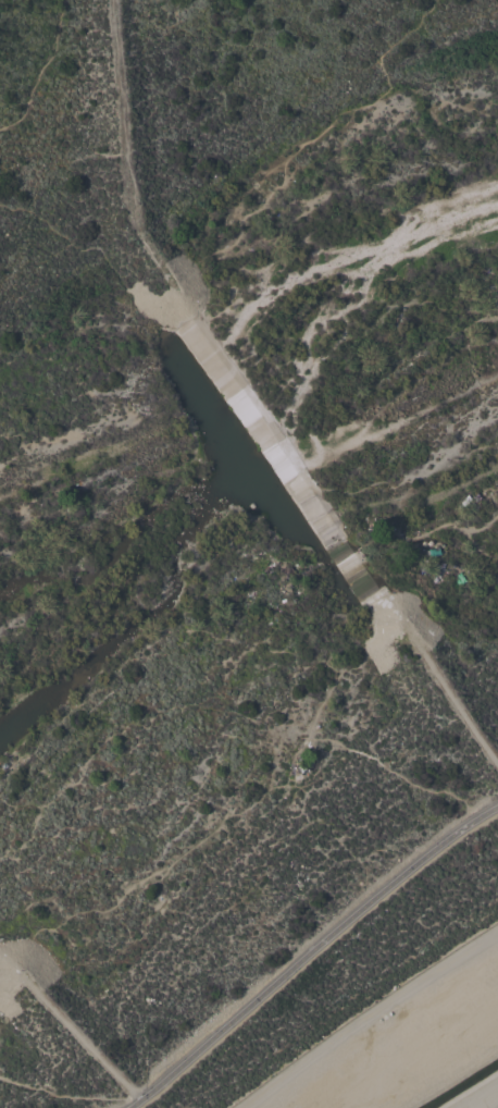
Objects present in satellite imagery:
river: (308, 276)
river: (247, 464)
river: (351, 507)
river: (8, 593)
river: (140, 623)
road: (308, 951)
road: (496, 1106)

